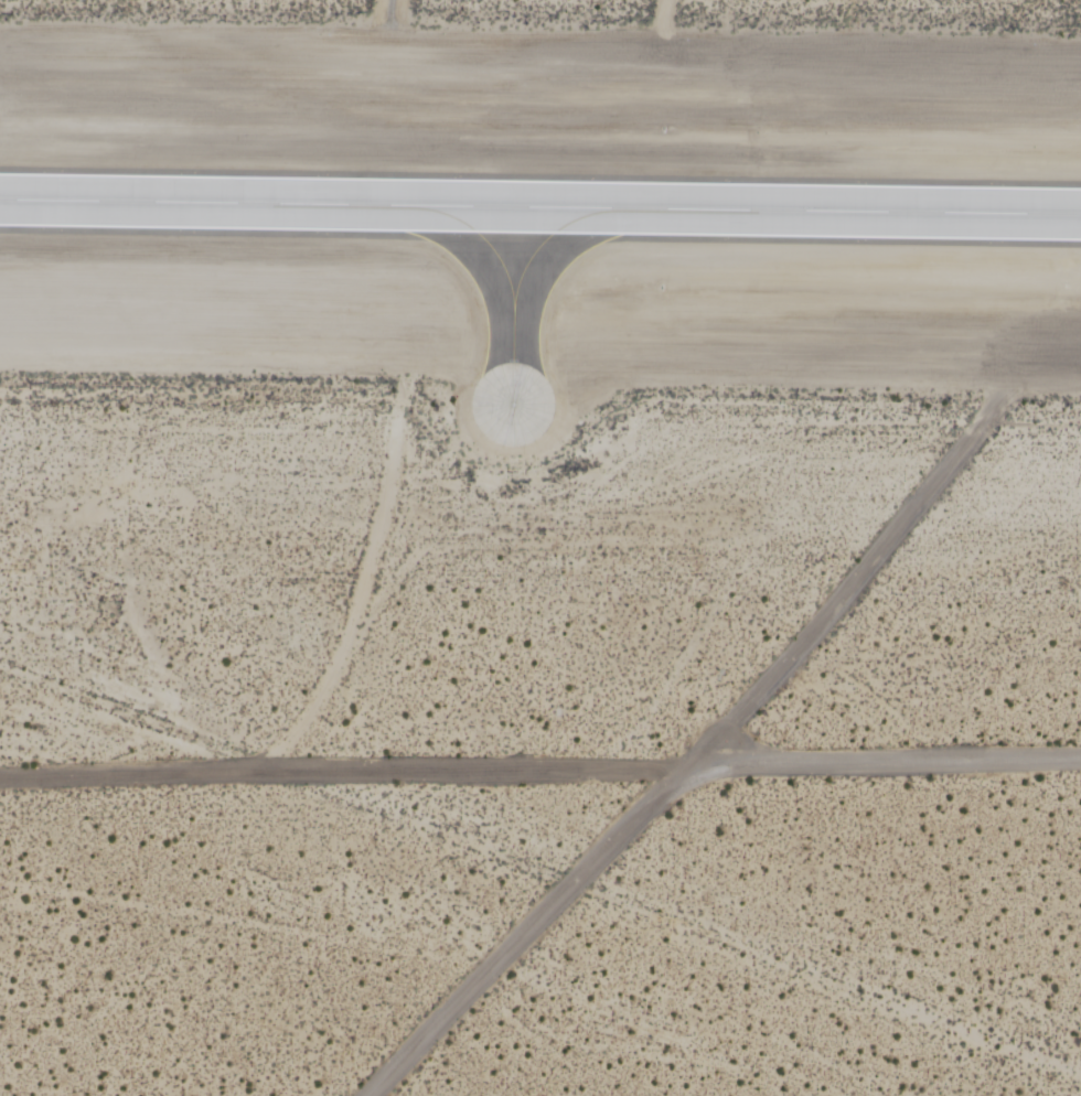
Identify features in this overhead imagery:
airport runway: (540, 207)
airport: (540, 548)

